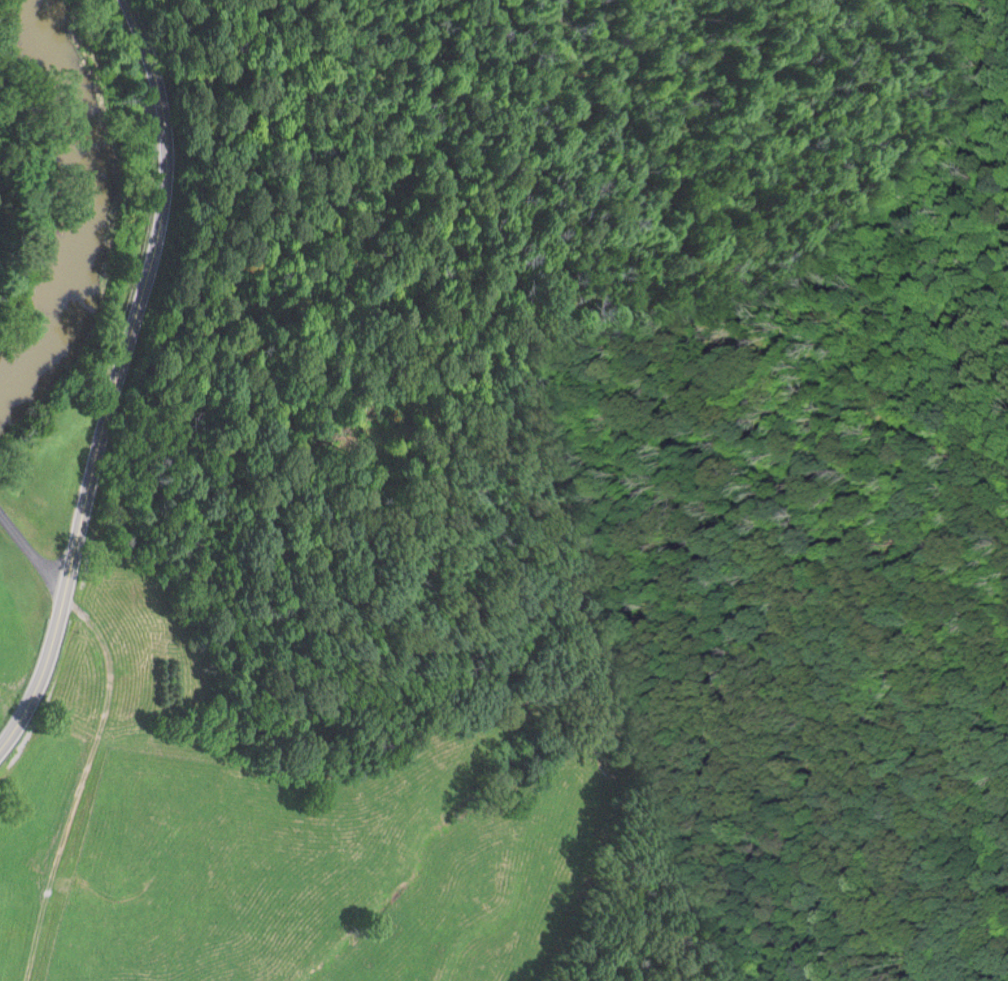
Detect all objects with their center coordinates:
river: (80, 203)
road: (121, 374)
road: (30, 552)

